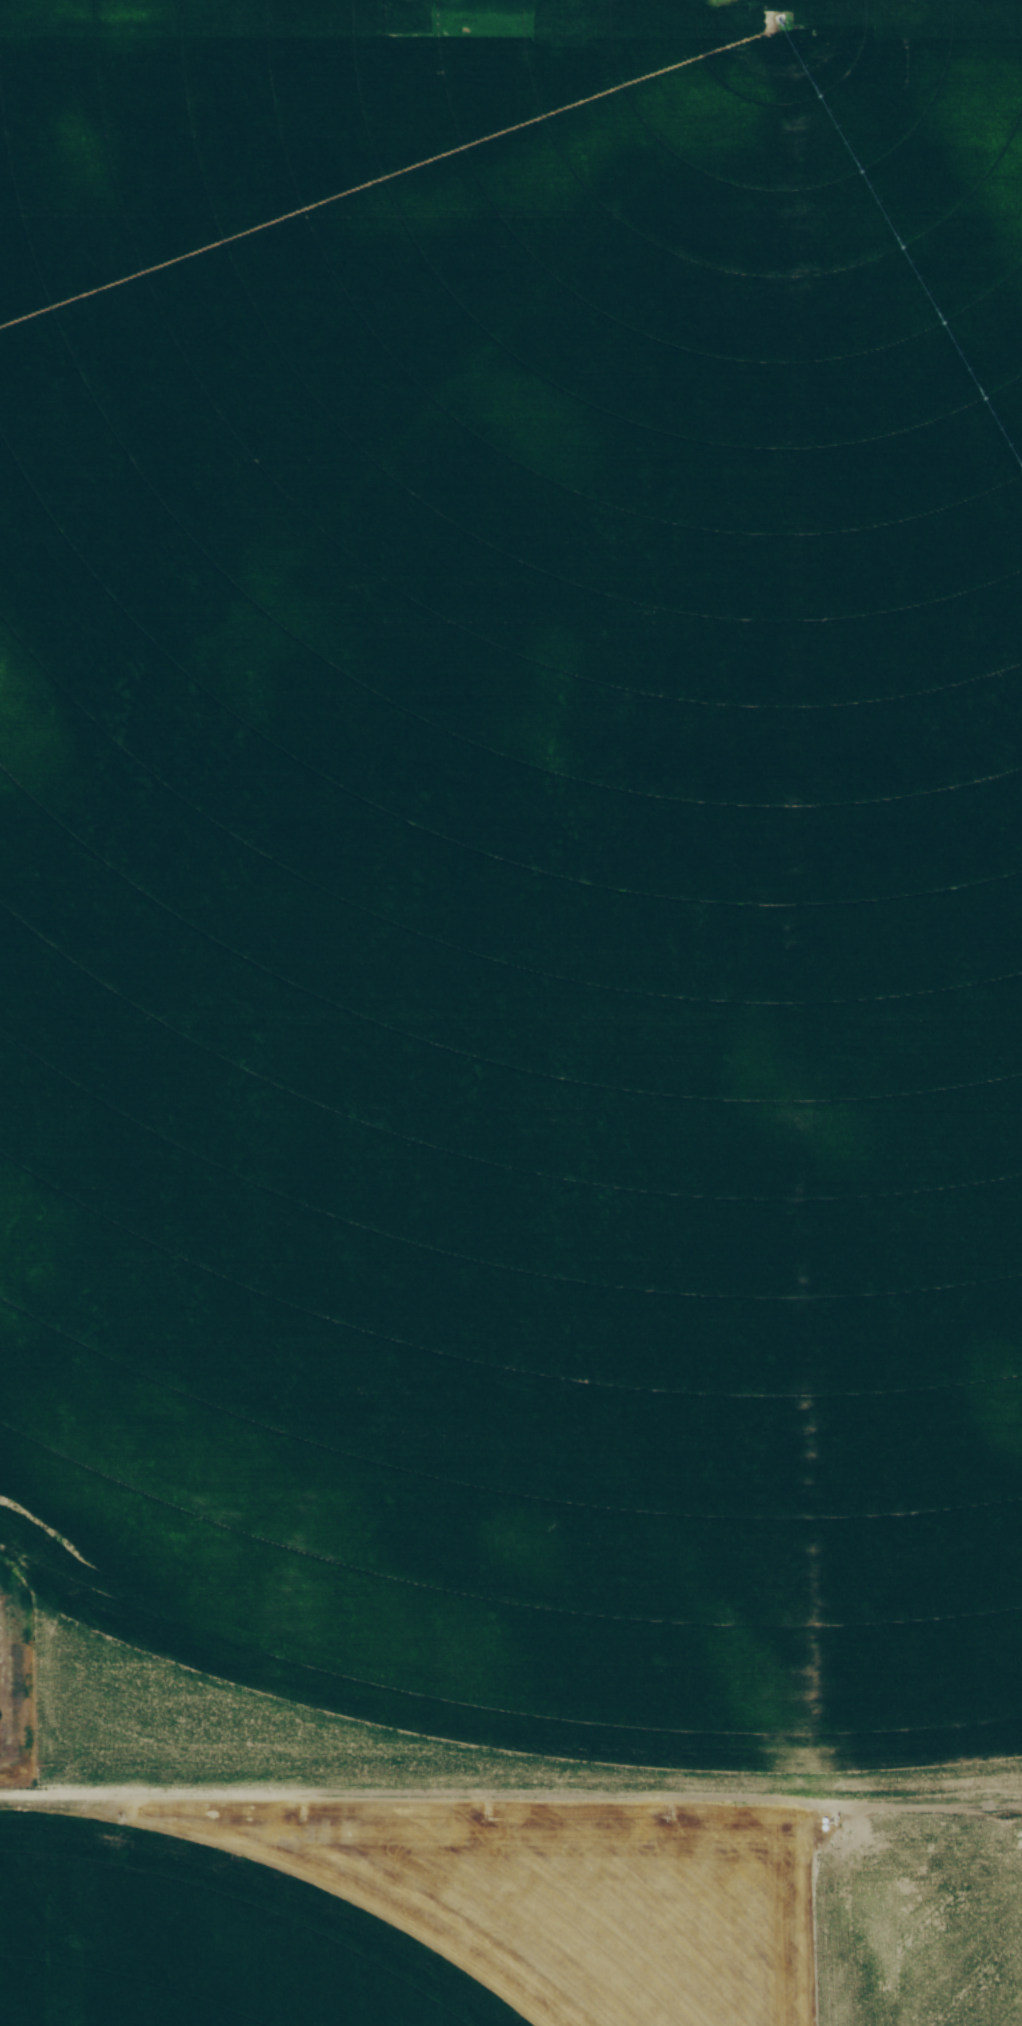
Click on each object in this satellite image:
crop: (512, 889)
crop: (221, 1936)

